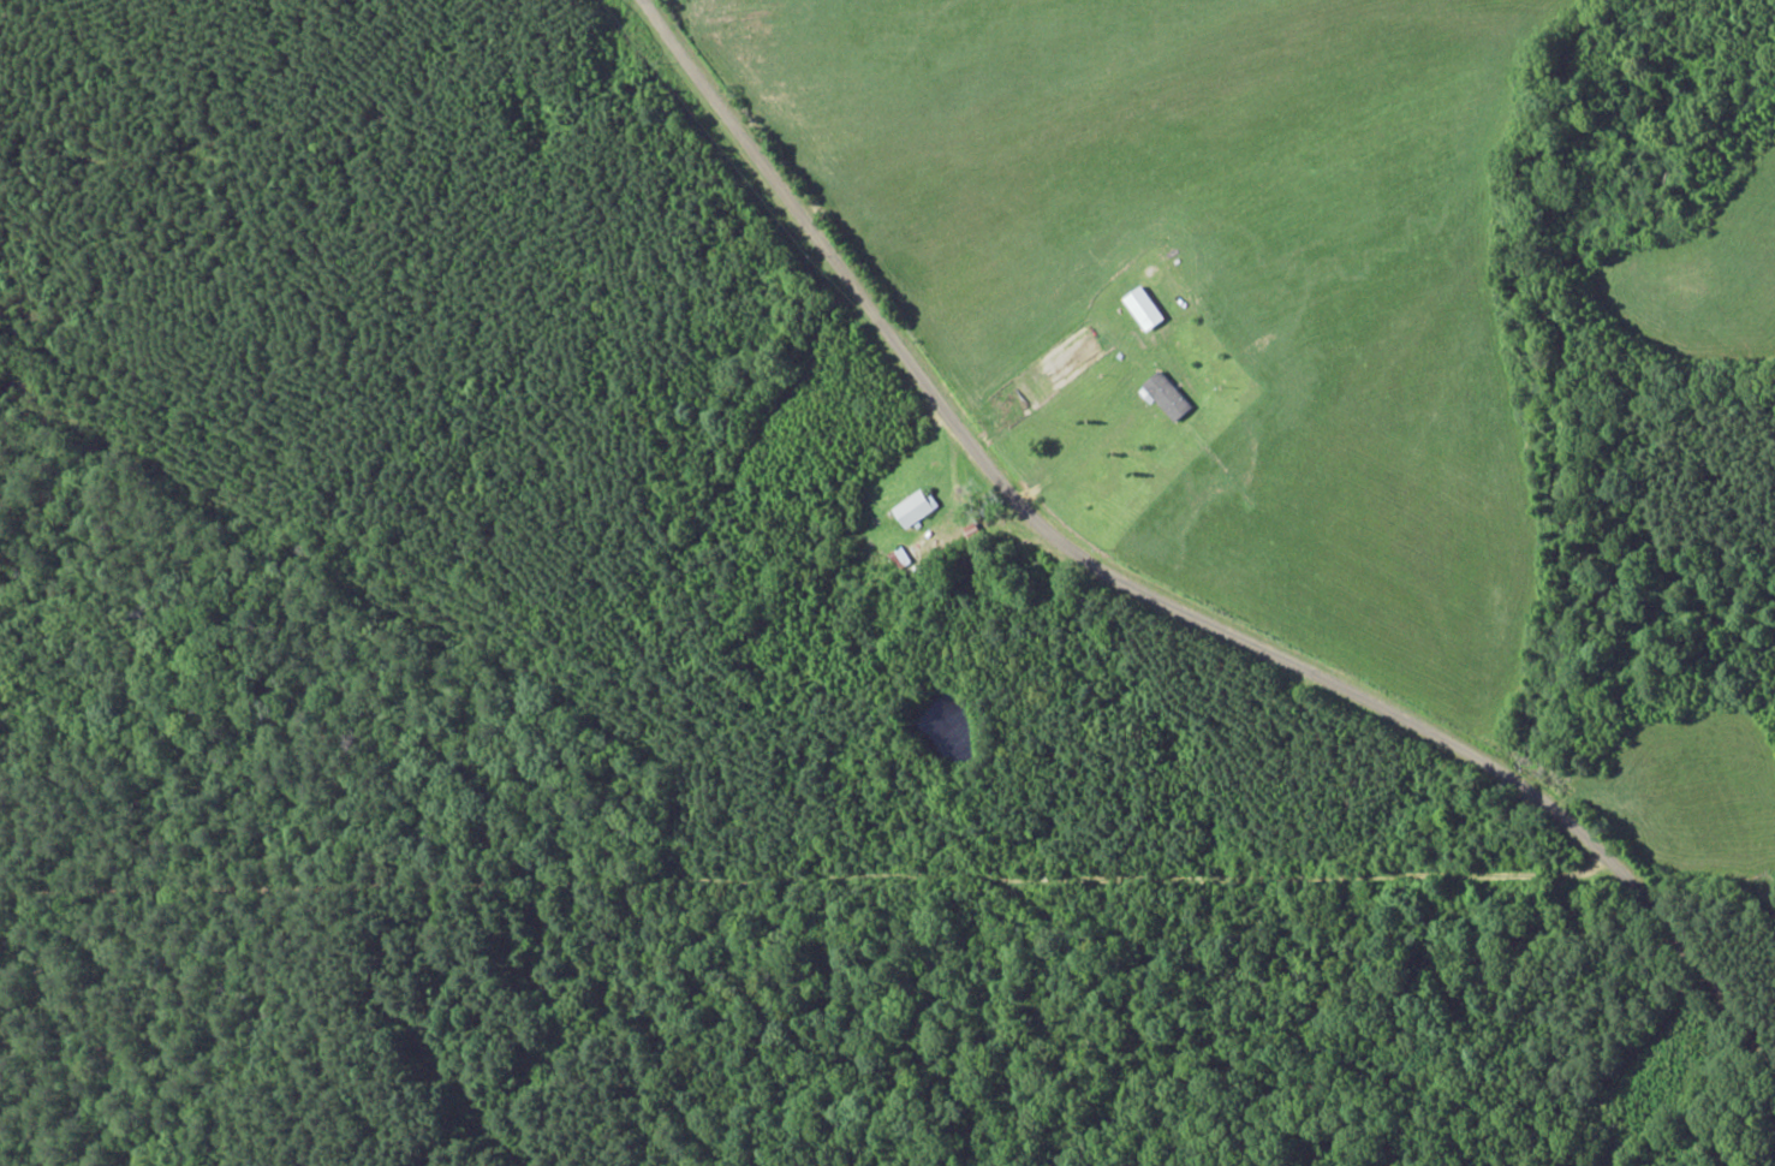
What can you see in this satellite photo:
building: (1142, 308)
building: (1163, 394)
building: (912, 507)
road: (1044, 529)
building: (900, 559)
road: (805, 878)
road: (1697, 962)

